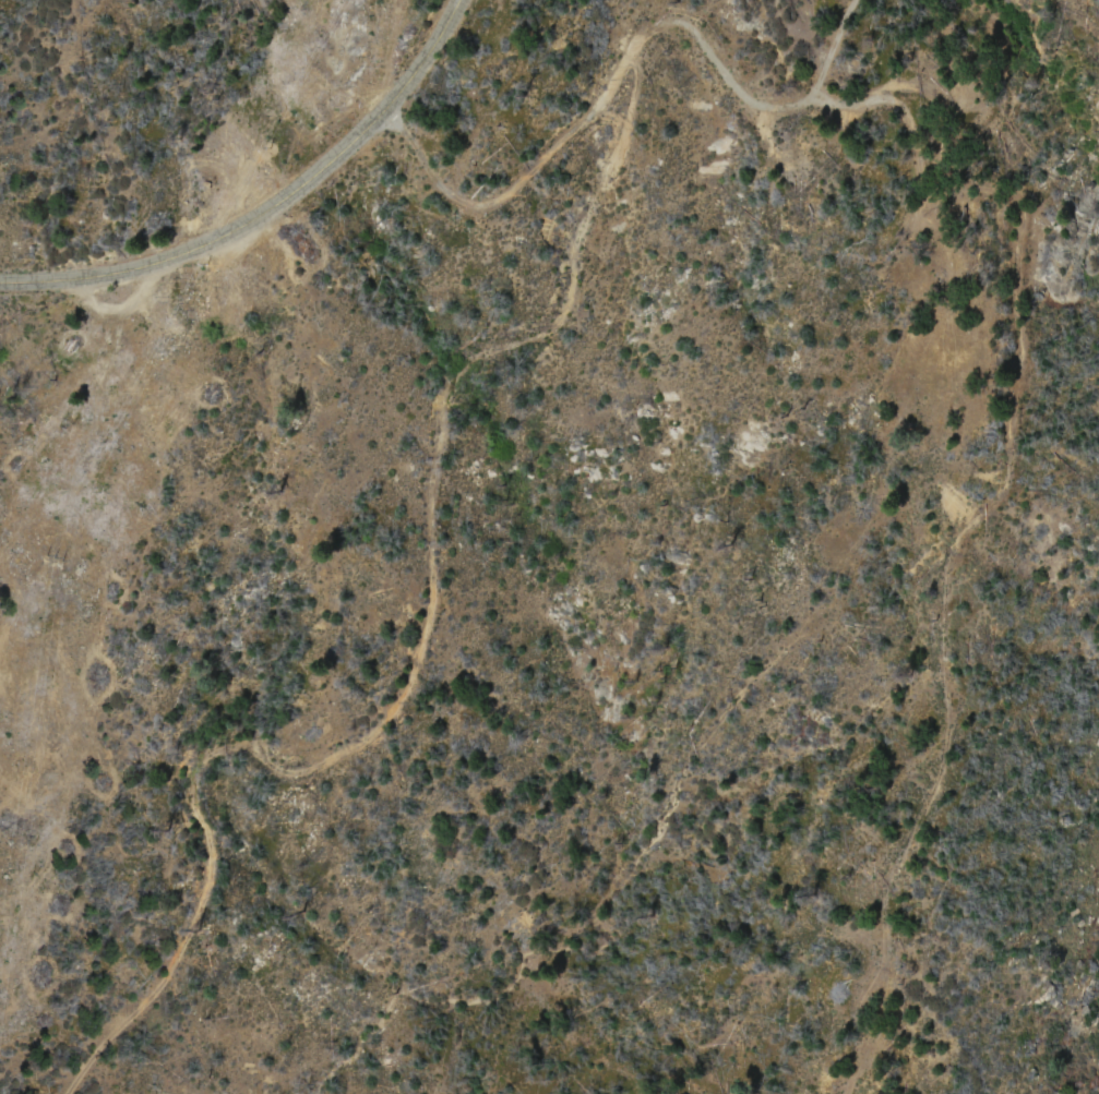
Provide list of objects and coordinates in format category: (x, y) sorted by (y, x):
road: (586, 119)
road: (271, 211)
road: (549, 551)

